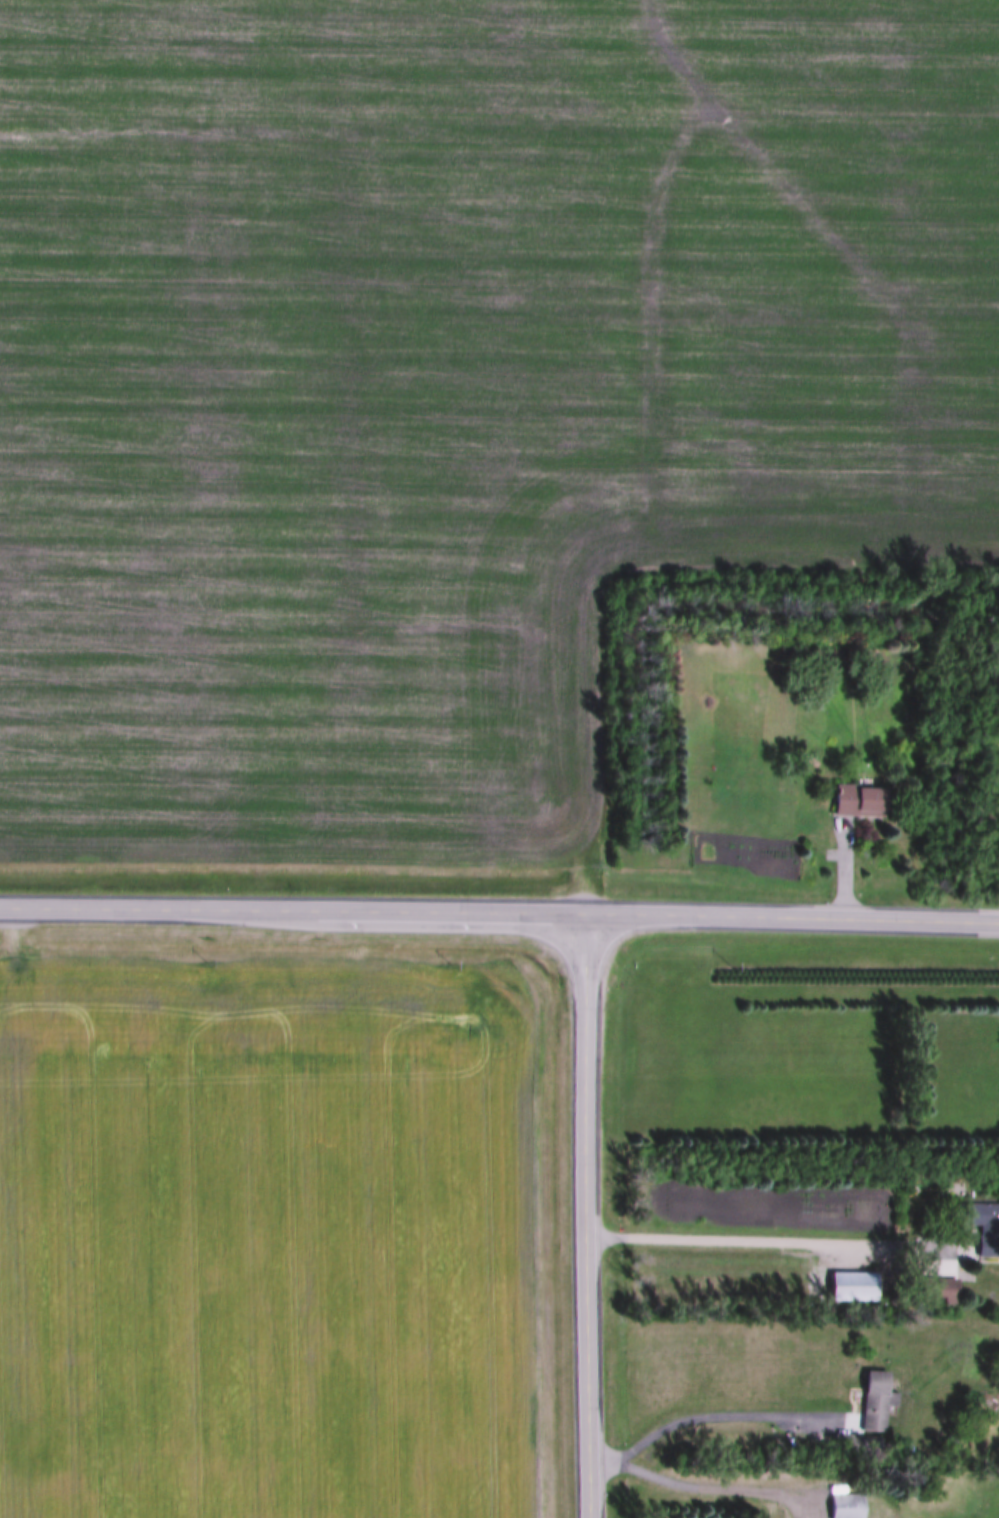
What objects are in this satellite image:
crop: (452, 386)
building: (856, 798)
road: (295, 913)
road: (795, 919)
road: (590, 1217)
building: (984, 1225)
crop: (266, 1240)
road: (781, 1244)
building: (850, 1285)
building: (937, 1288)
building: (874, 1399)
road: (716, 1419)
building: (847, 1443)
road: (719, 1491)
building: (845, 1505)

